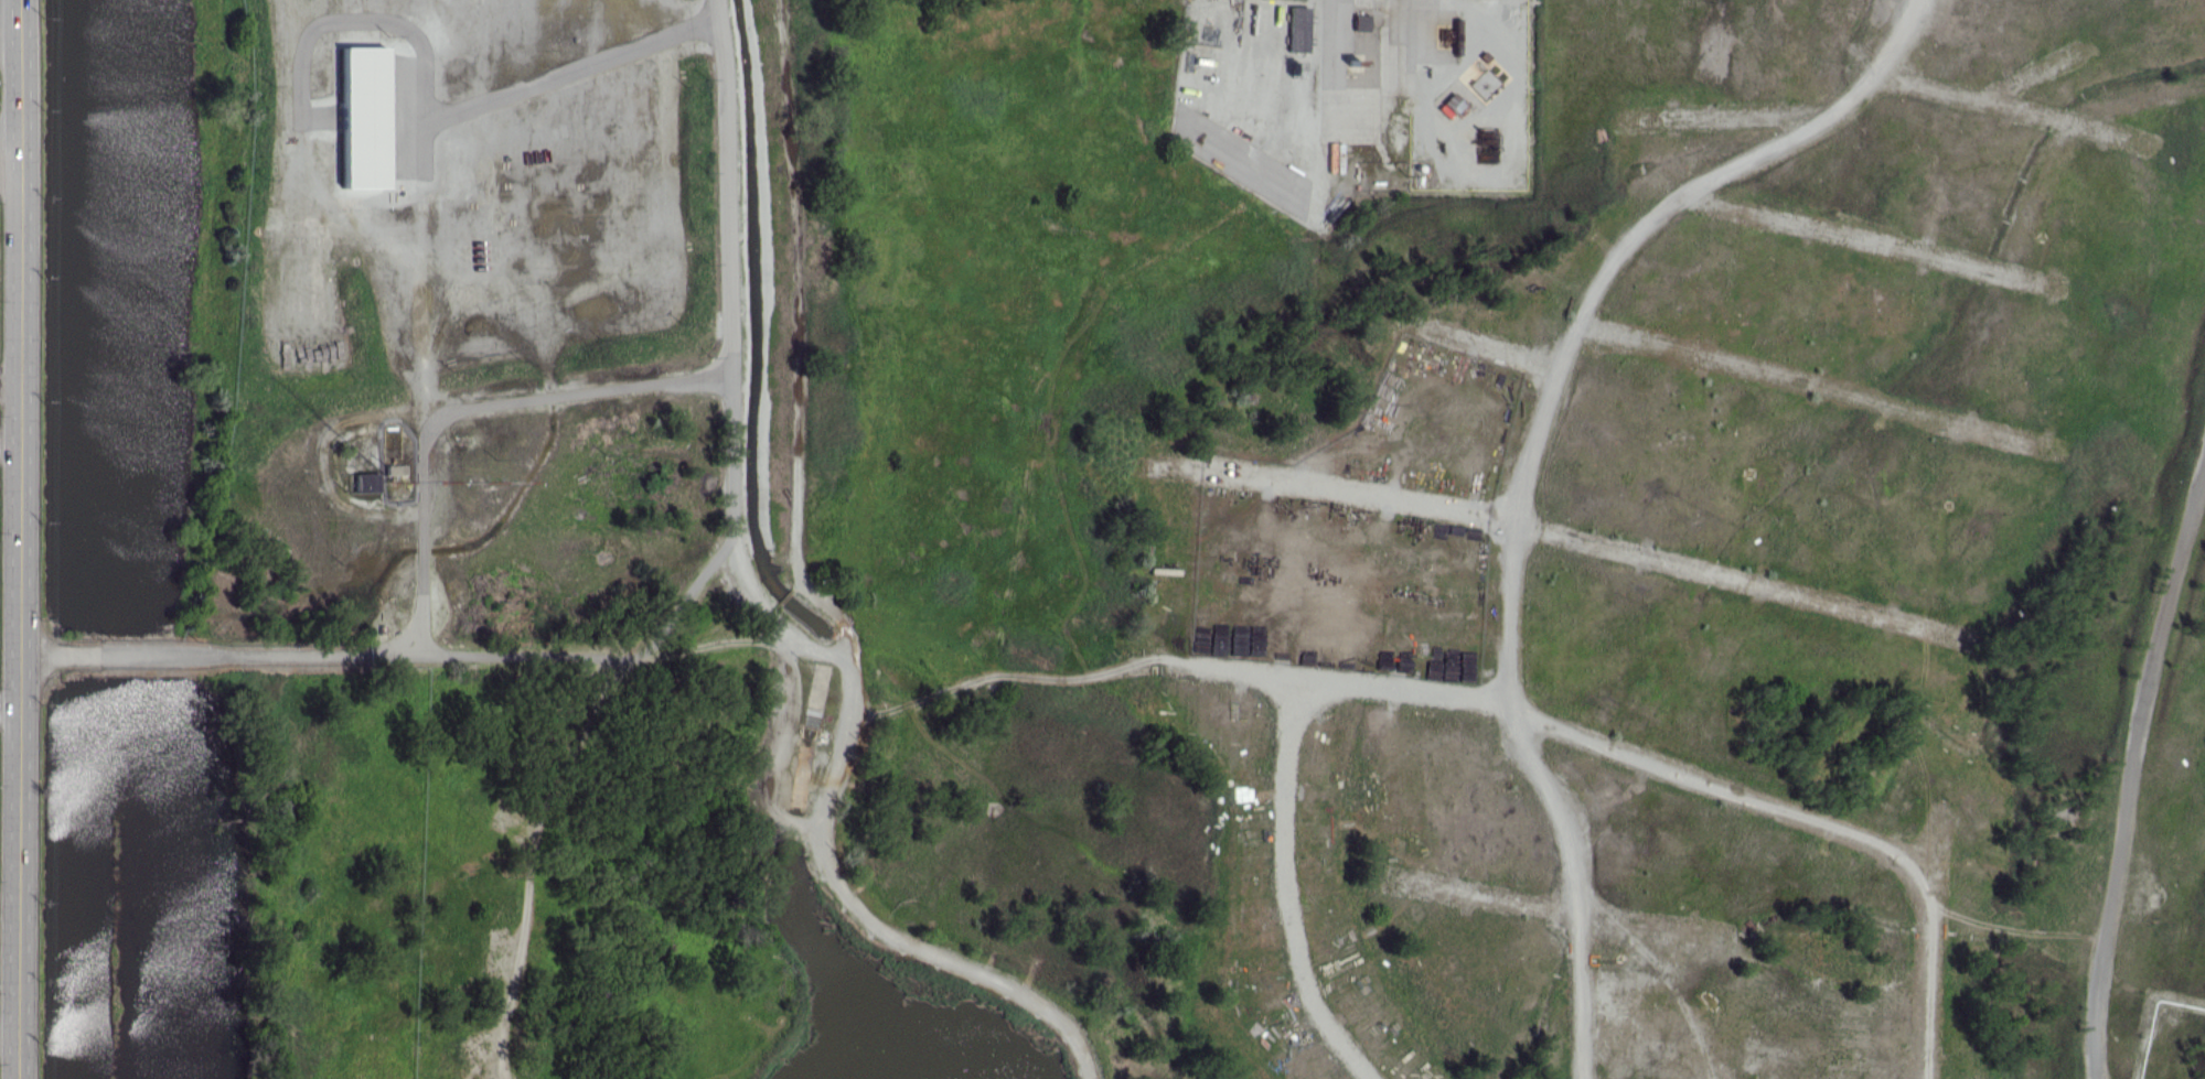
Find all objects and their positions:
building: (1353, 22)
building: (1292, 29)
road: (10, 37)
road: (577, 67)
building: (362, 117)
road: (10, 134)
road: (10, 164)
road: (10, 385)
road: (460, 411)
road: (10, 445)
building: (365, 482)
road: (19, 539)
road: (9, 714)
road: (9, 1036)

